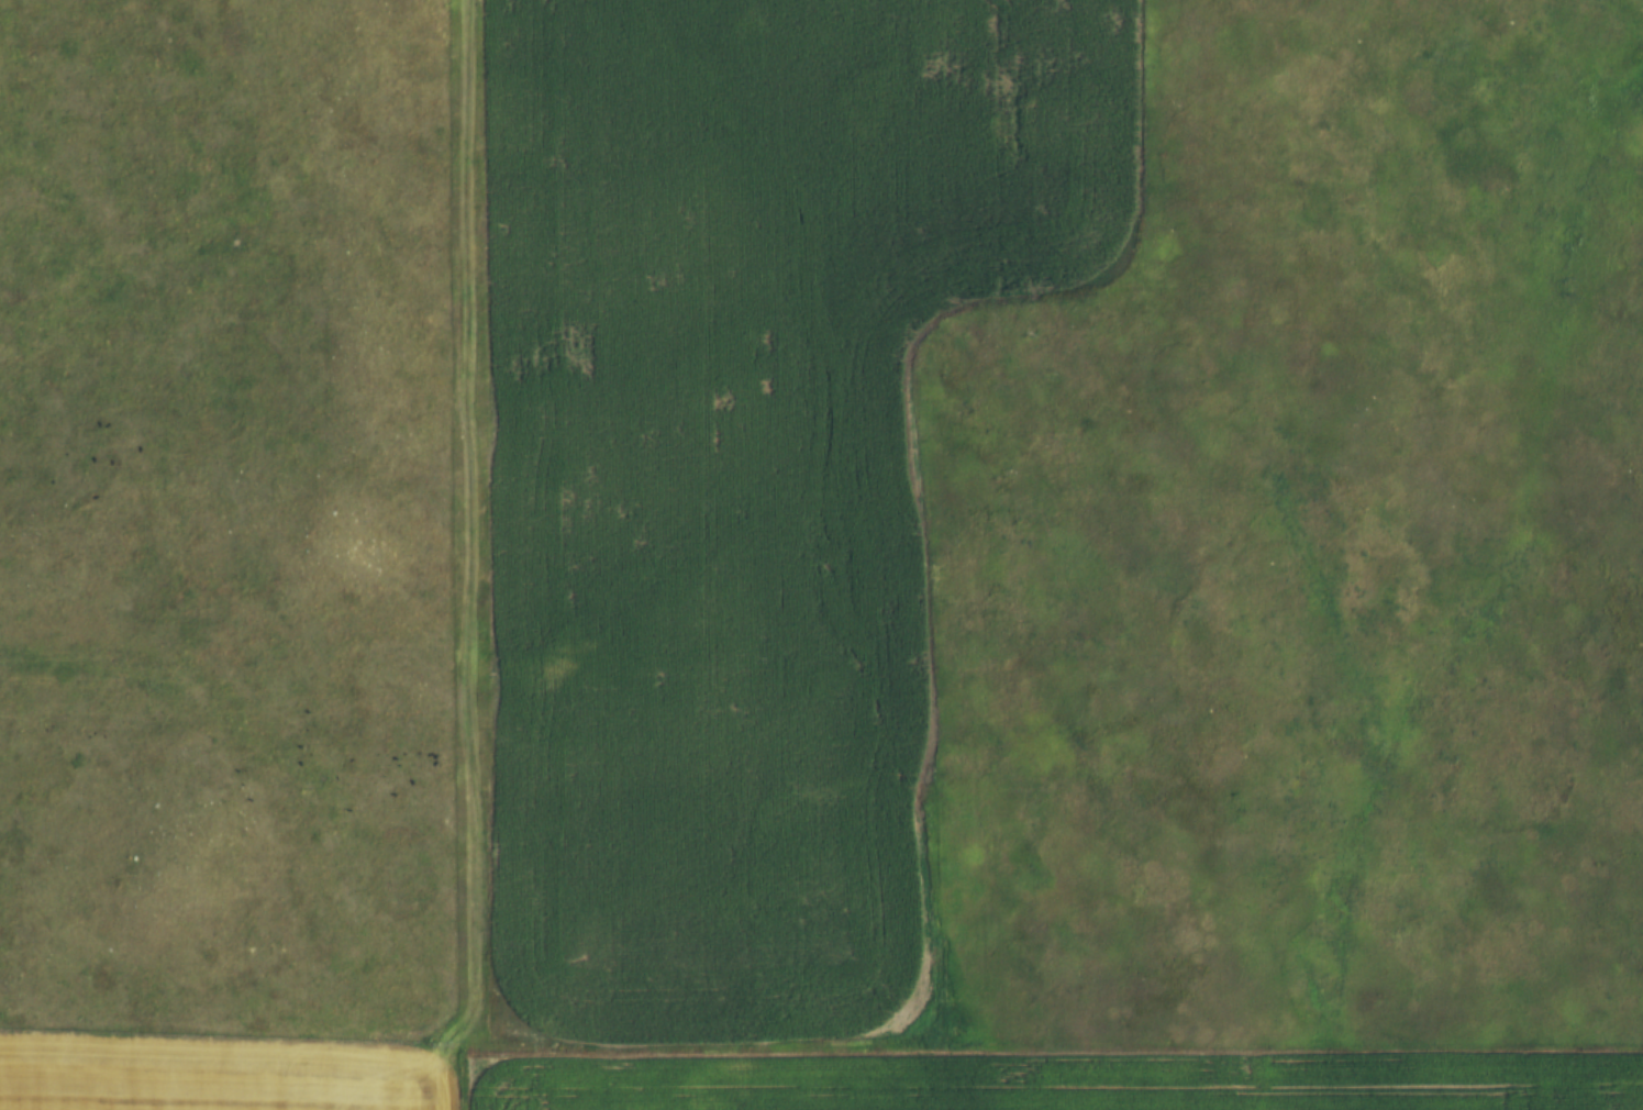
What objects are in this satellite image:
crop: (736, 473)
crop: (214, 1076)
crop: (1063, 1081)

